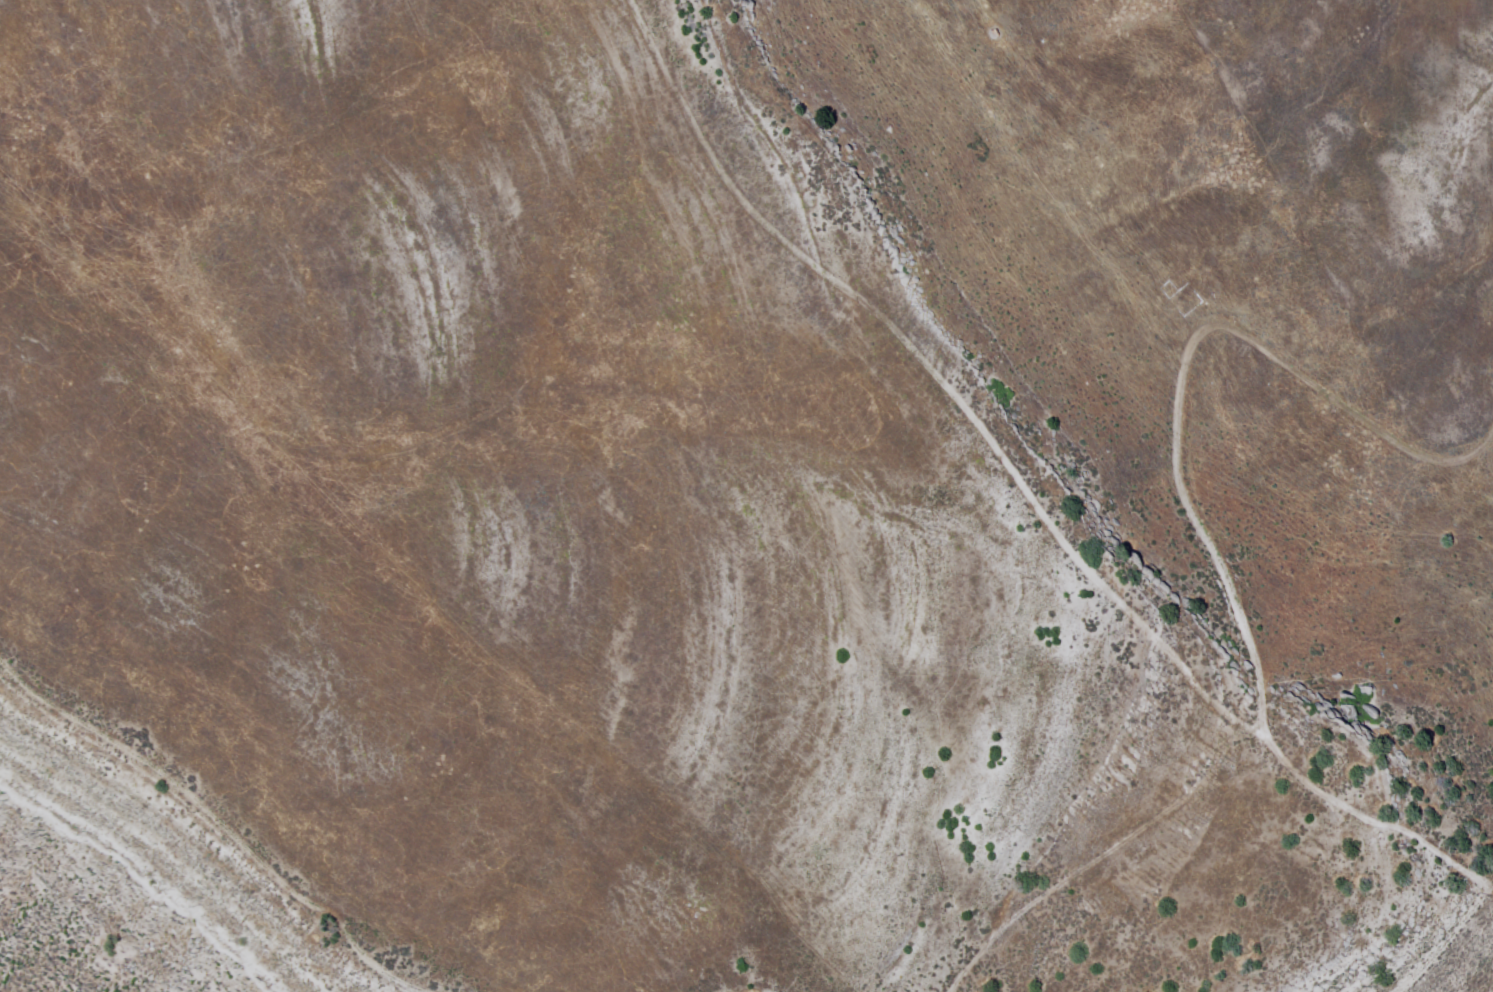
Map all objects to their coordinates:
road: (1214, 562)
road: (215, 818)
road: (1111, 849)

